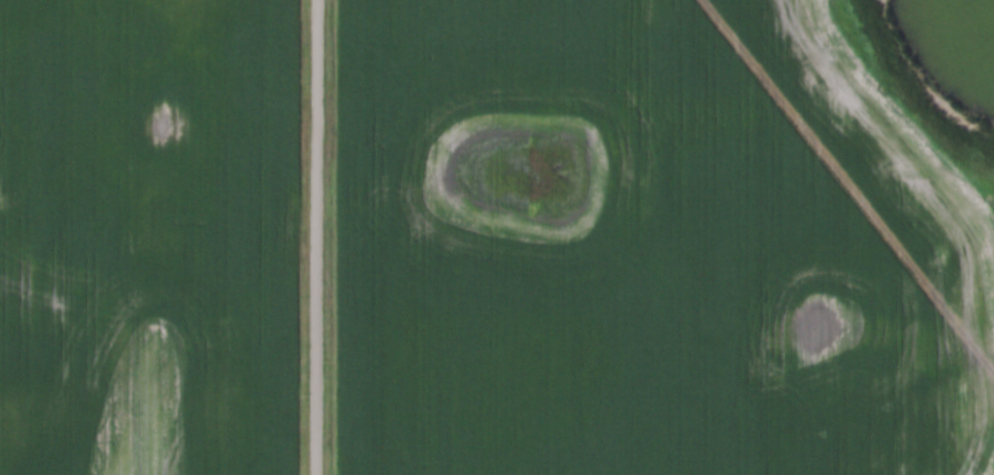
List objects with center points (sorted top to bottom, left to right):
road: (318, 237)

